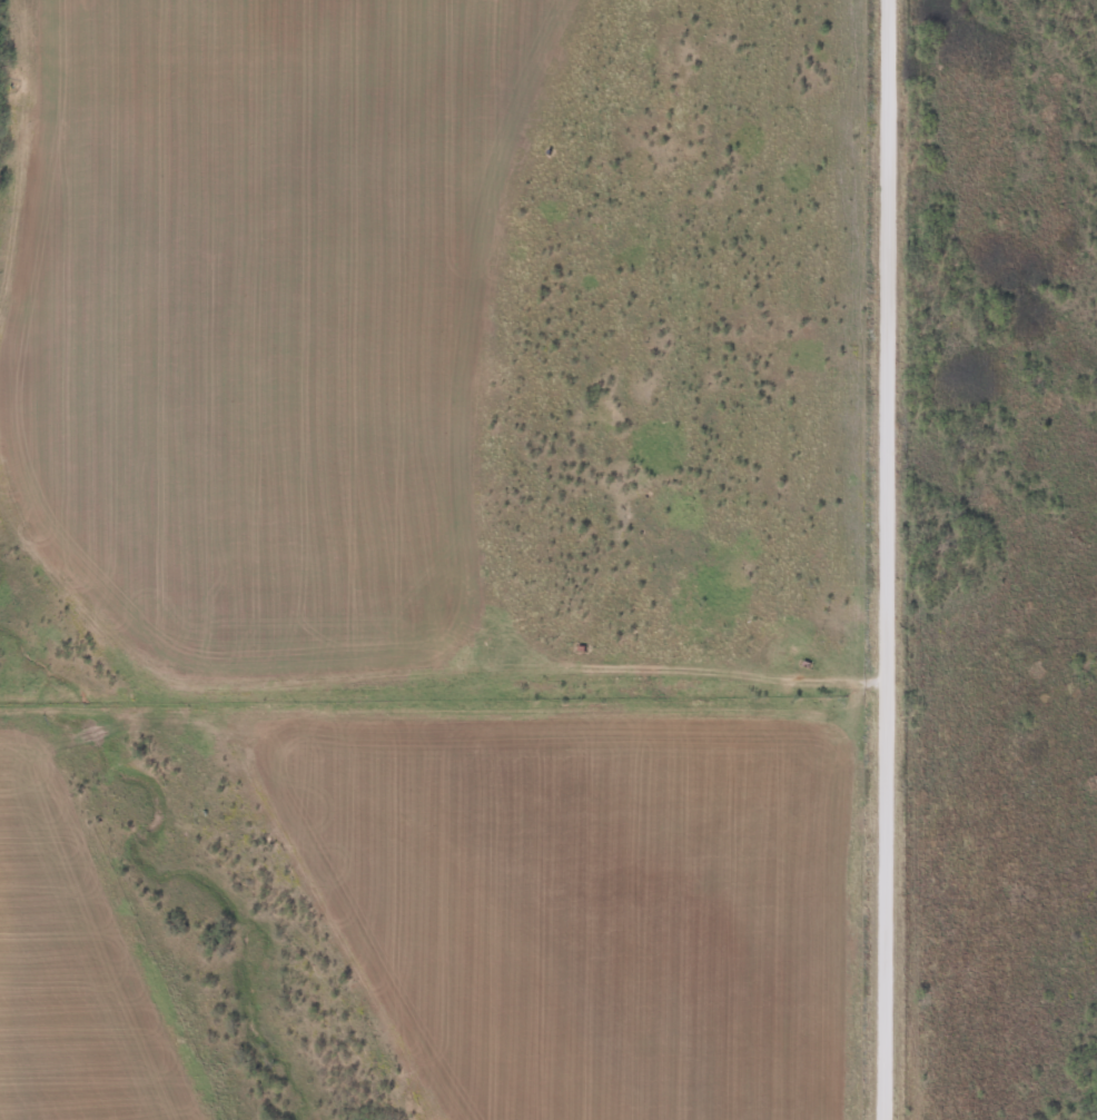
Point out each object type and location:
road: (890, 559)

